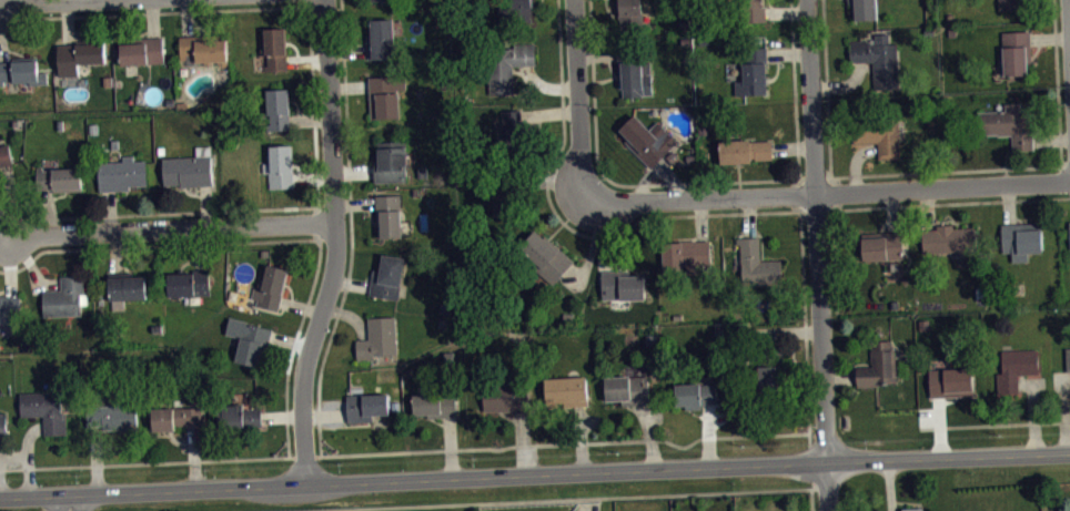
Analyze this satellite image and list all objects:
road: (47, 2)
building: (381, 3)
building: (1010, 3)
building: (865, 8)
building: (753, 9)
building: (515, 11)
building: (629, 12)
road: (1069, 19)
building: (381, 37)
building: (203, 48)
building: (274, 48)
building: (142, 50)
building: (1016, 51)
building: (79, 53)
building: (877, 57)
building: (507, 63)
building: (633, 69)
building: (21, 70)
building: (753, 71)
building: (385, 94)
road: (576, 100)
building: (277, 105)
building: (1008, 123)
building: (514, 130)
building: (878, 131)
building: (645, 136)
building: (744, 149)
building: (4, 154)
building: (391, 160)
building: (279, 165)
building: (189, 167)
building: (121, 173)
building: (59, 177)
road: (826, 192)
building: (502, 193)
building: (390, 213)
road: (169, 228)
building: (1069, 228)
road: (814, 231)
building: (948, 237)
building: (1021, 238)
road: (333, 242)
building: (882, 244)
building: (686, 254)
building: (544, 255)
building: (757, 263)
building: (388, 275)
building: (189, 282)
building: (620, 284)
building: (127, 285)
building: (271, 285)
building: (64, 295)
building: (9, 308)
building: (378, 336)
building: (250, 338)
building: (1068, 357)
building: (878, 364)
building: (771, 367)
building: (1016, 367)
building: (951, 380)
building: (627, 388)
building: (565, 390)
building: (506, 392)
building: (694, 392)
building: (435, 402)
building: (366, 403)
building: (44, 409)
building: (112, 415)
building: (239, 415)
building: (175, 416)
building: (3, 423)
road: (995, 425)
road: (433, 449)
road: (534, 471)
road: (825, 473)
road: (827, 498)
road: (557, 499)
road: (810, 499)
road: (77, 501)
road: (62, 502)
building: (915, 509)

